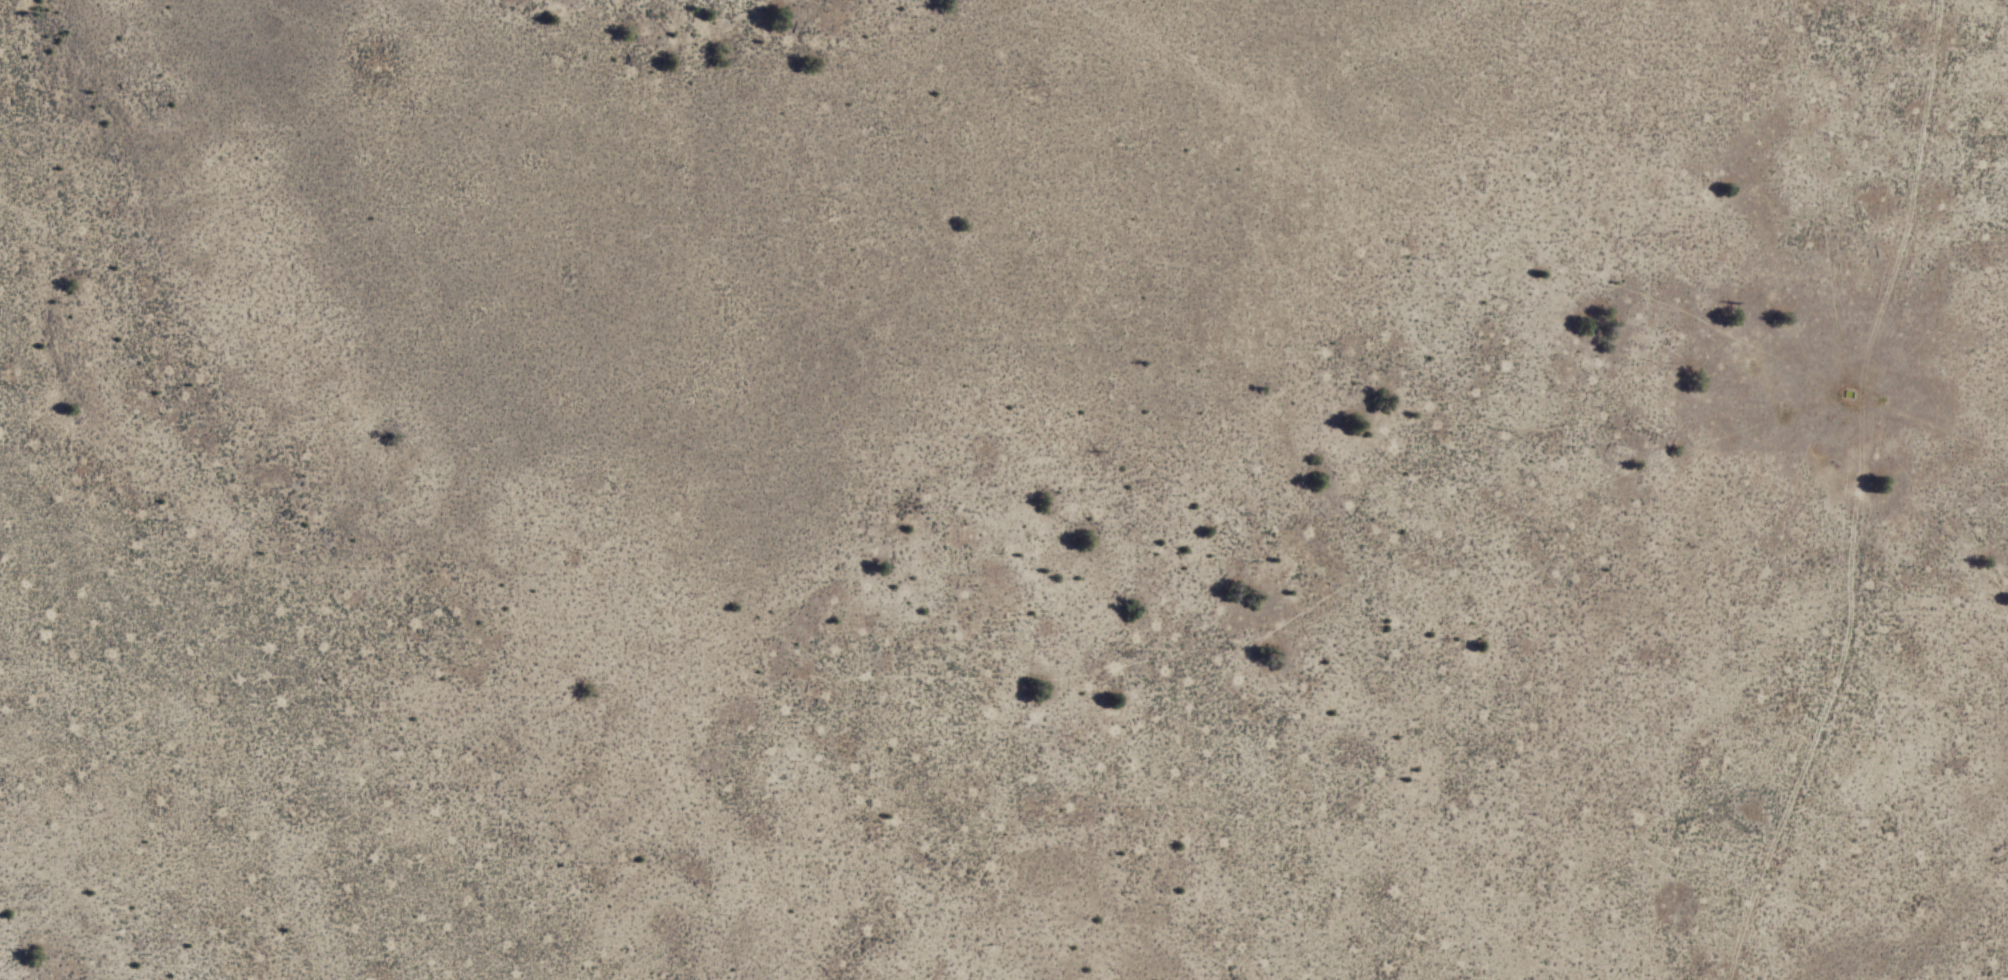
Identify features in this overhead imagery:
road: (1867, 496)

